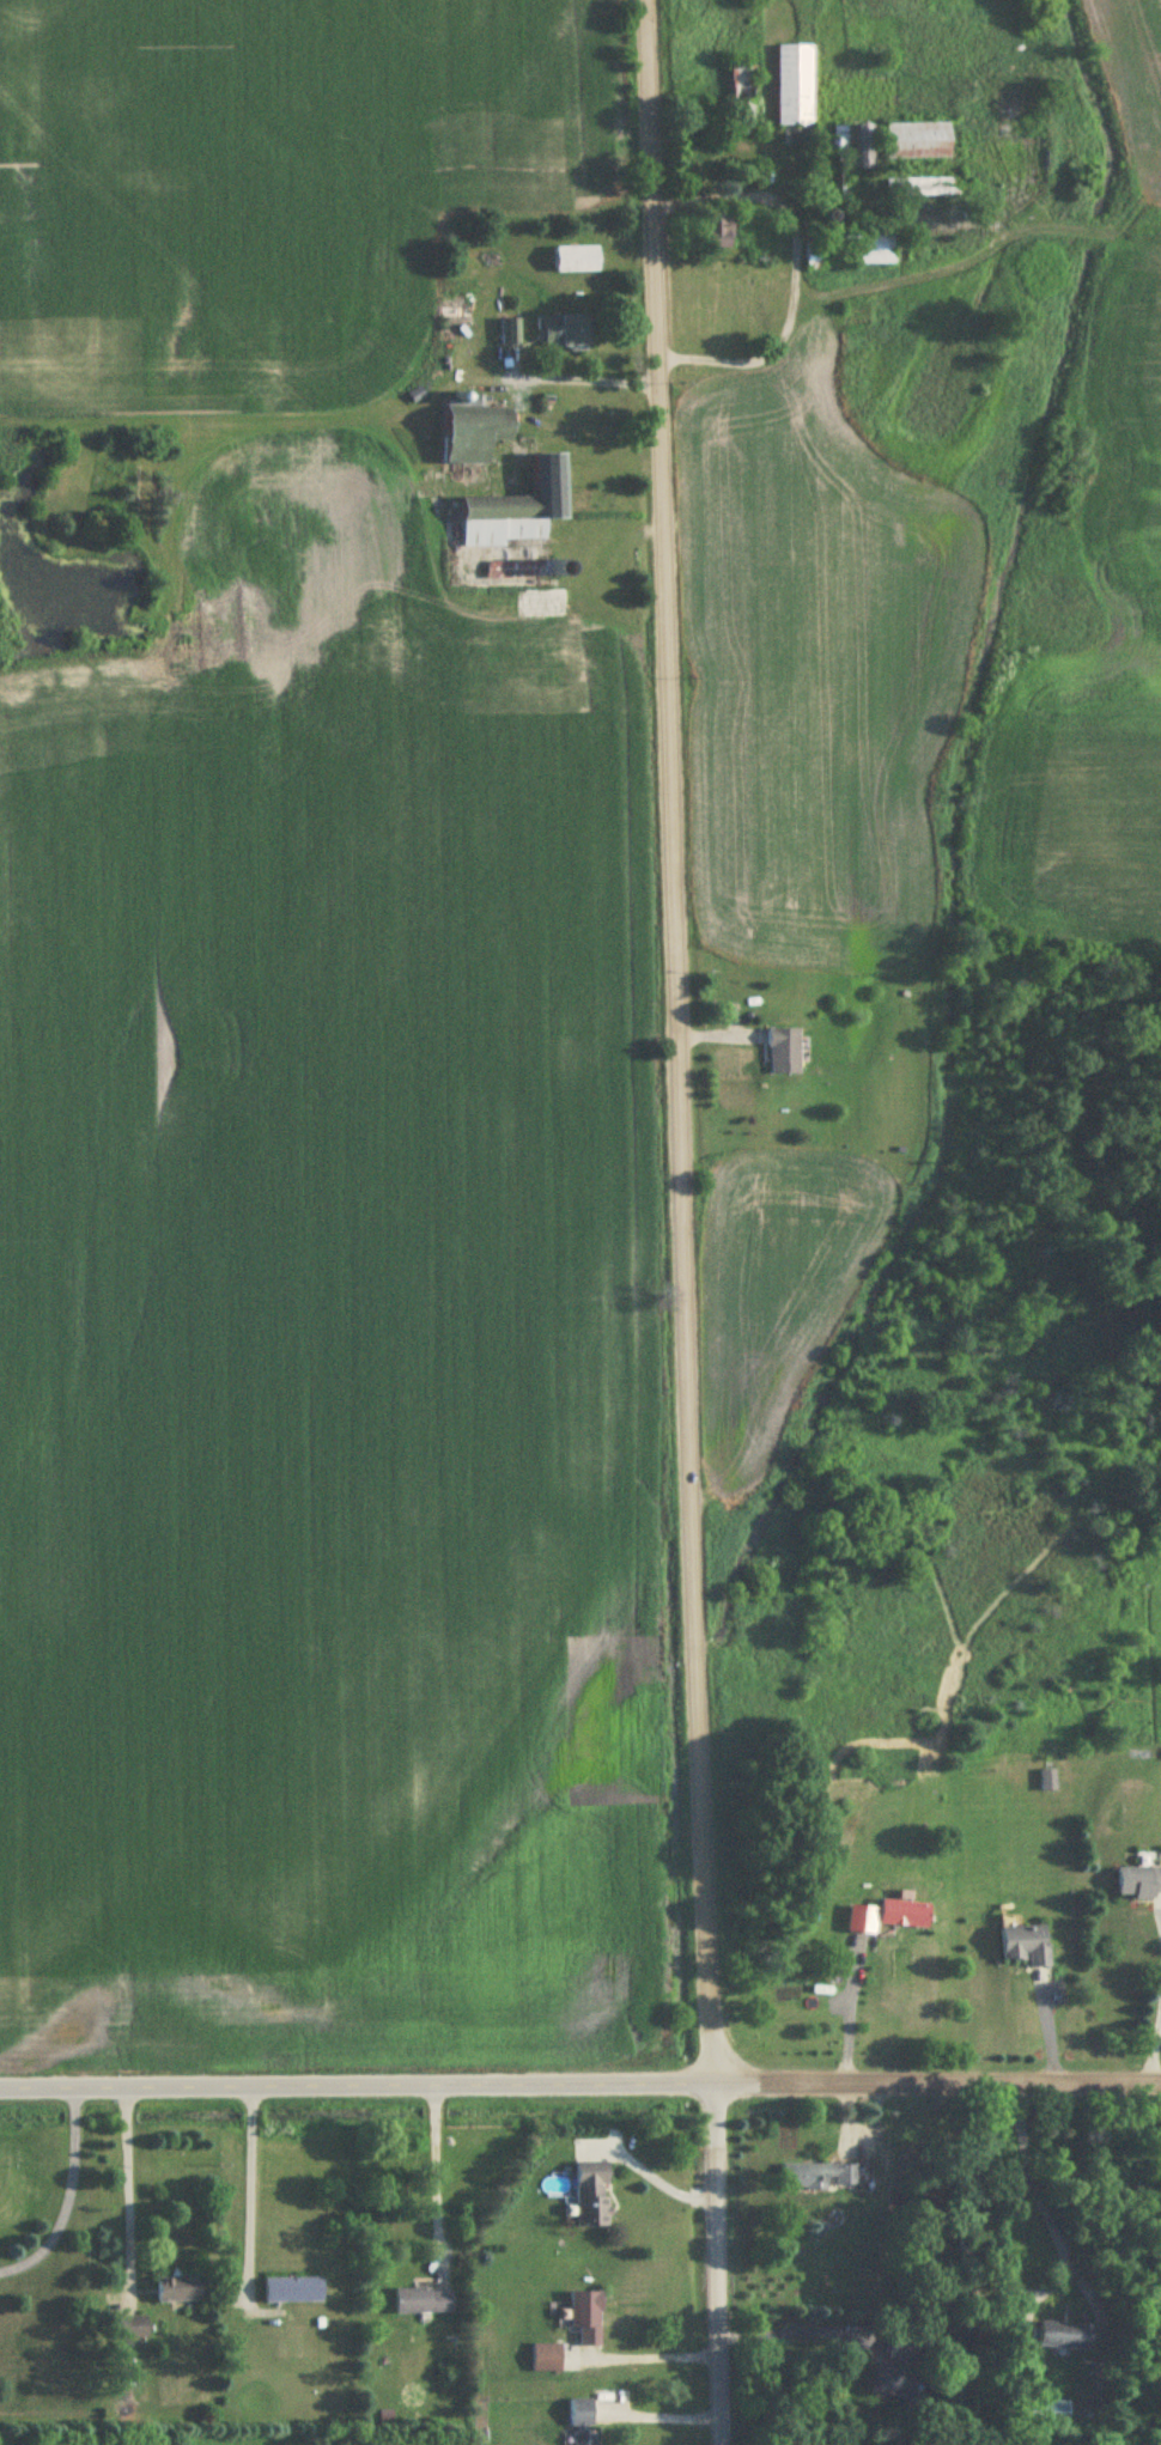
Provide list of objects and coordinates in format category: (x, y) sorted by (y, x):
building: (795, 85)
building: (741, 99)
building: (917, 140)
building: (855, 144)
building: (829, 180)
building: (922, 187)
building: (721, 231)
building: (849, 250)
building: (577, 259)
road: (796, 269)
building: (564, 330)
building: (510, 332)
road: (583, 378)
building: (474, 430)
building: (518, 509)
road: (674, 1039)
building: (784, 1052)
building: (1048, 1781)
building: (1138, 1881)
building: (905, 1914)
building: (862, 1918)
building: (1026, 1945)
road: (851, 2012)
road: (1155, 2056)
road: (934, 2076)
road: (354, 2082)
road: (436, 2172)
road: (249, 2175)
building: (822, 2177)
road: (1039, 2177)
road: (126, 2184)
road: (69, 2195)
building: (592, 2195)
road: (713, 2261)
building: (178, 2288)
building: (293, 2289)
building: (423, 2300)
building: (586, 2316)
building: (133, 2328)
road: (789, 2331)
building: (1066, 2336)
building: (547, 2358)
road: (649, 2360)
building: (895, 2370)
building: (584, 2421)

